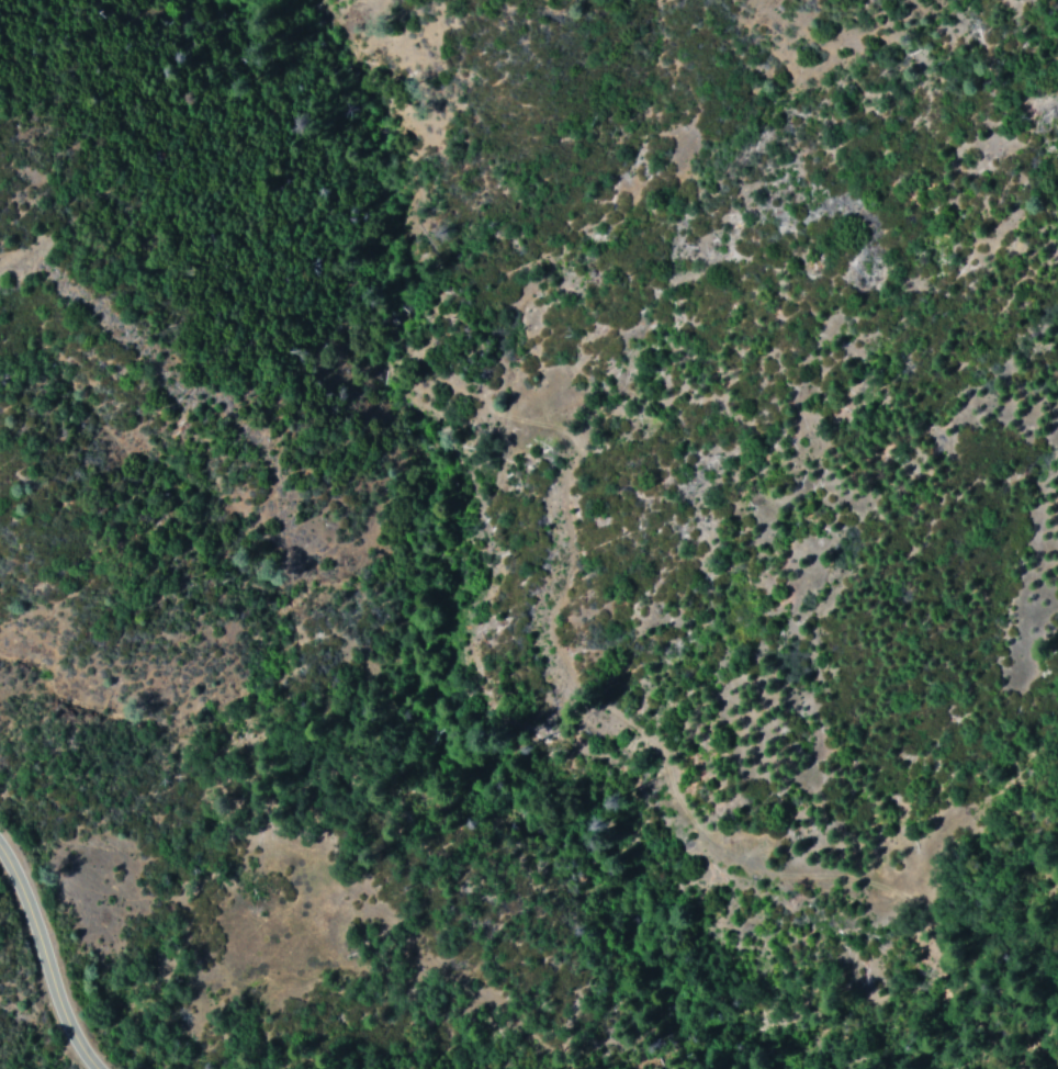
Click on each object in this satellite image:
road: (35, 786)
road: (90, 790)
road: (44, 960)

